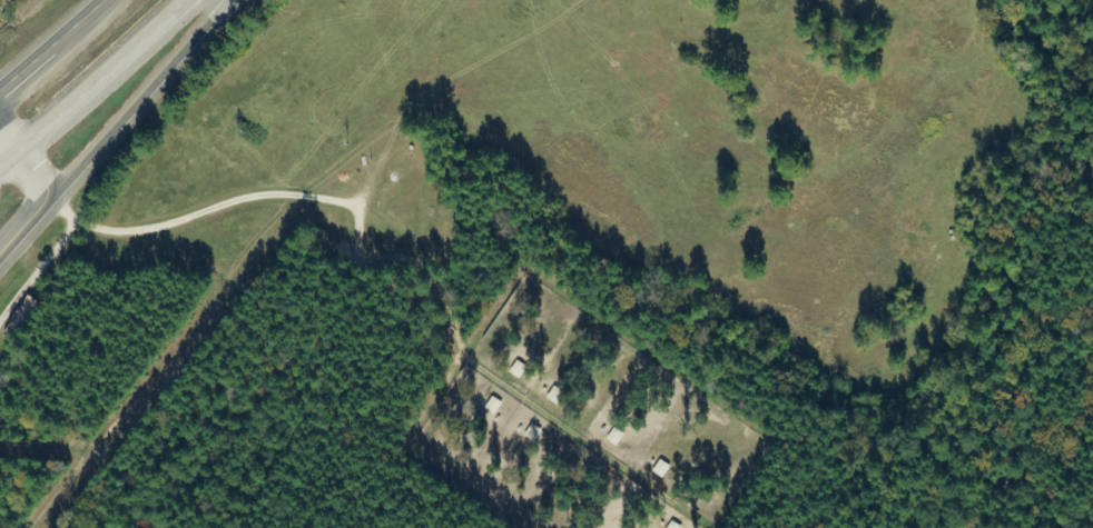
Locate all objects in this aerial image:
road: (105, 1)
road: (51, 43)
road: (104, 74)
road: (137, 100)
road: (8, 157)
road: (29, 163)
road: (23, 228)
building: (20, 318)

